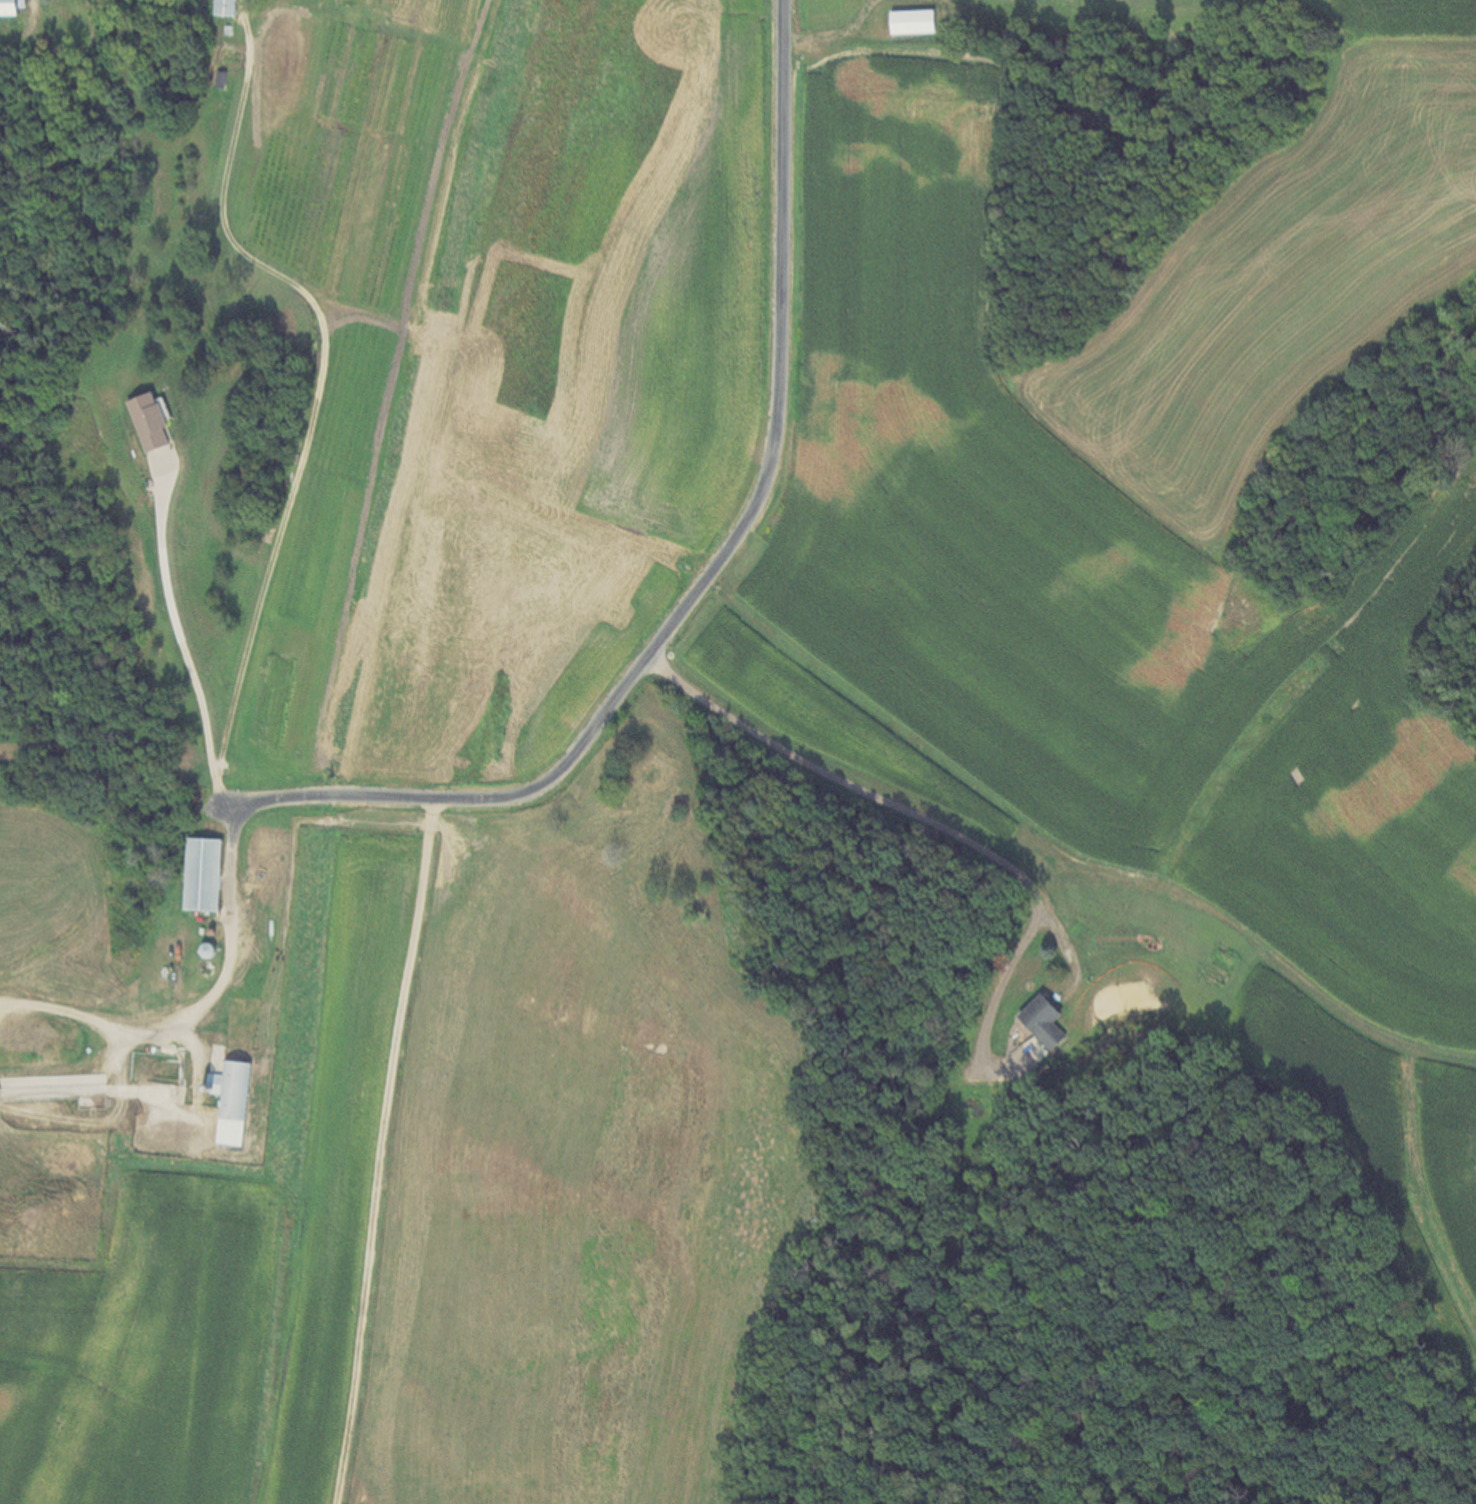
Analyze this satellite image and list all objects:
building: (13, 7)
building: (228, 7)
building: (915, 21)
building: (154, 422)
road: (708, 573)
road: (175, 654)
road: (882, 805)
building: (206, 874)
building: (211, 950)
road: (194, 1009)
building: (1048, 1021)
building: (236, 1101)

